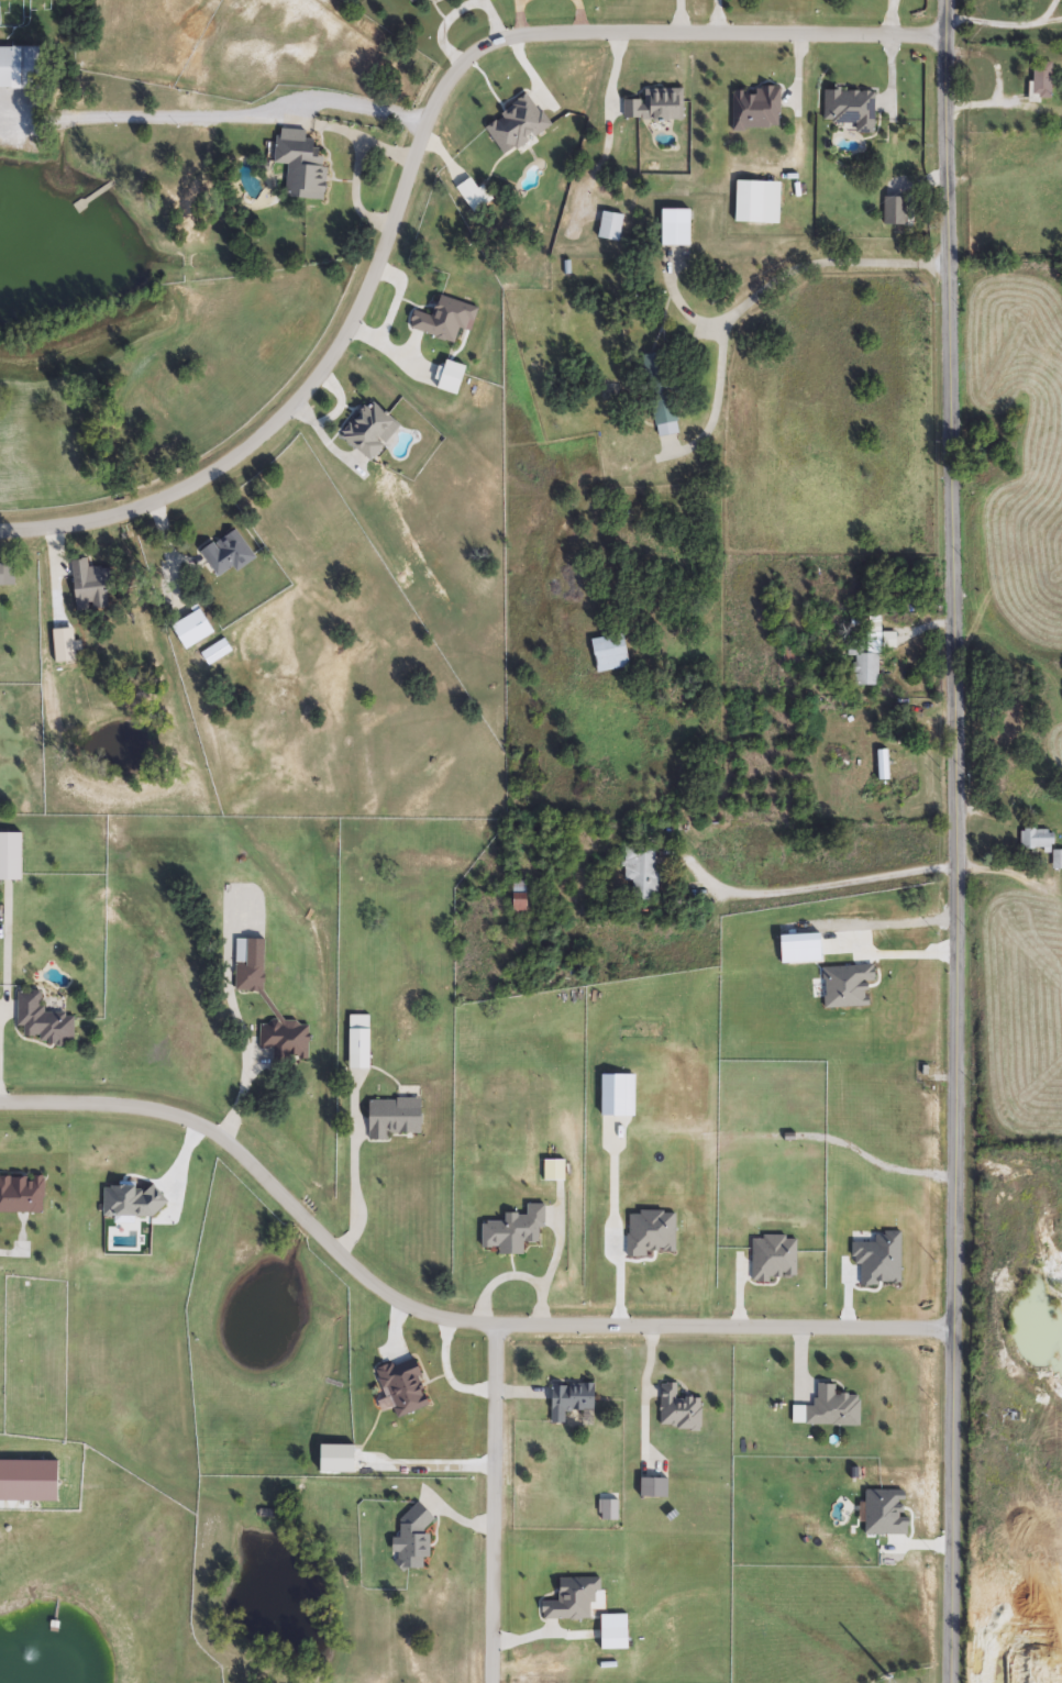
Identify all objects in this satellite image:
building: (411, 0)
road: (1046, 12)
road: (1050, 22)
road: (992, 25)
building: (19, 67)
building: (1042, 80)
building: (657, 106)
building: (850, 108)
building: (756, 109)
road: (215, 117)
road: (412, 162)
building: (302, 166)
building: (756, 202)
building: (895, 211)
building: (610, 226)
building: (675, 228)
road: (821, 263)
building: (663, 408)
building: (369, 431)
building: (226, 554)
building: (1, 575)
building: (215, 653)
building: (610, 654)
building: (865, 663)
building: (1037, 840)
road: (959, 841)
building: (11, 856)
building: (1058, 860)
building: (642, 872)
road: (818, 884)
building: (519, 898)
road: (892, 953)
building: (250, 966)
building: (42, 1020)
building: (286, 1041)
building: (359, 1042)
road: (244, 1093)
building: (756, 1115)
building: (394, 1119)
road: (356, 1173)
building: (515, 1231)
road: (443, 1320)
building: (571, 1400)
building: (832, 1409)
building: (678, 1410)
building: (653, 1490)
road: (493, 1509)
power tower: (888, 1676)

